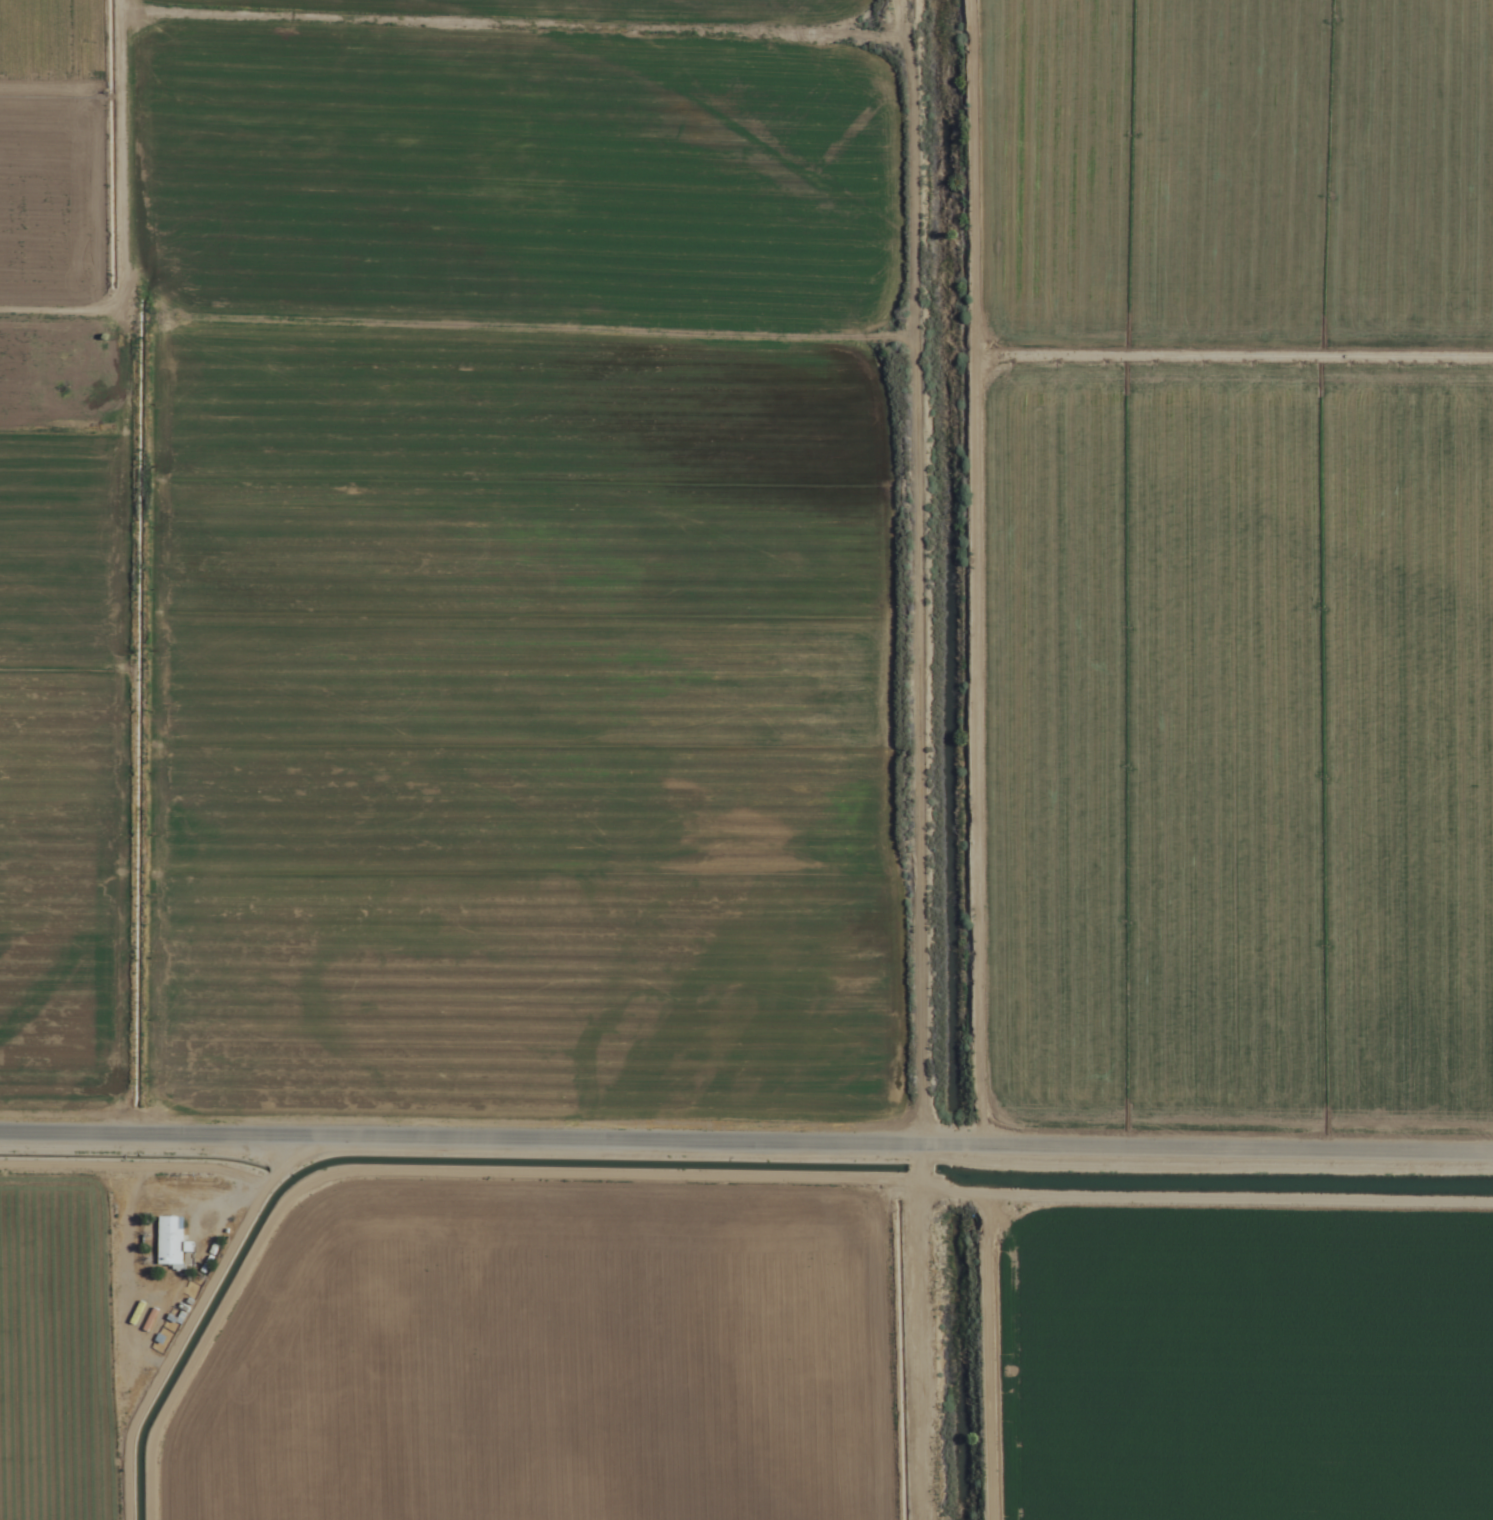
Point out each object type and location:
crop: (746, 760)
road: (746, 1143)
building: (172, 1239)

